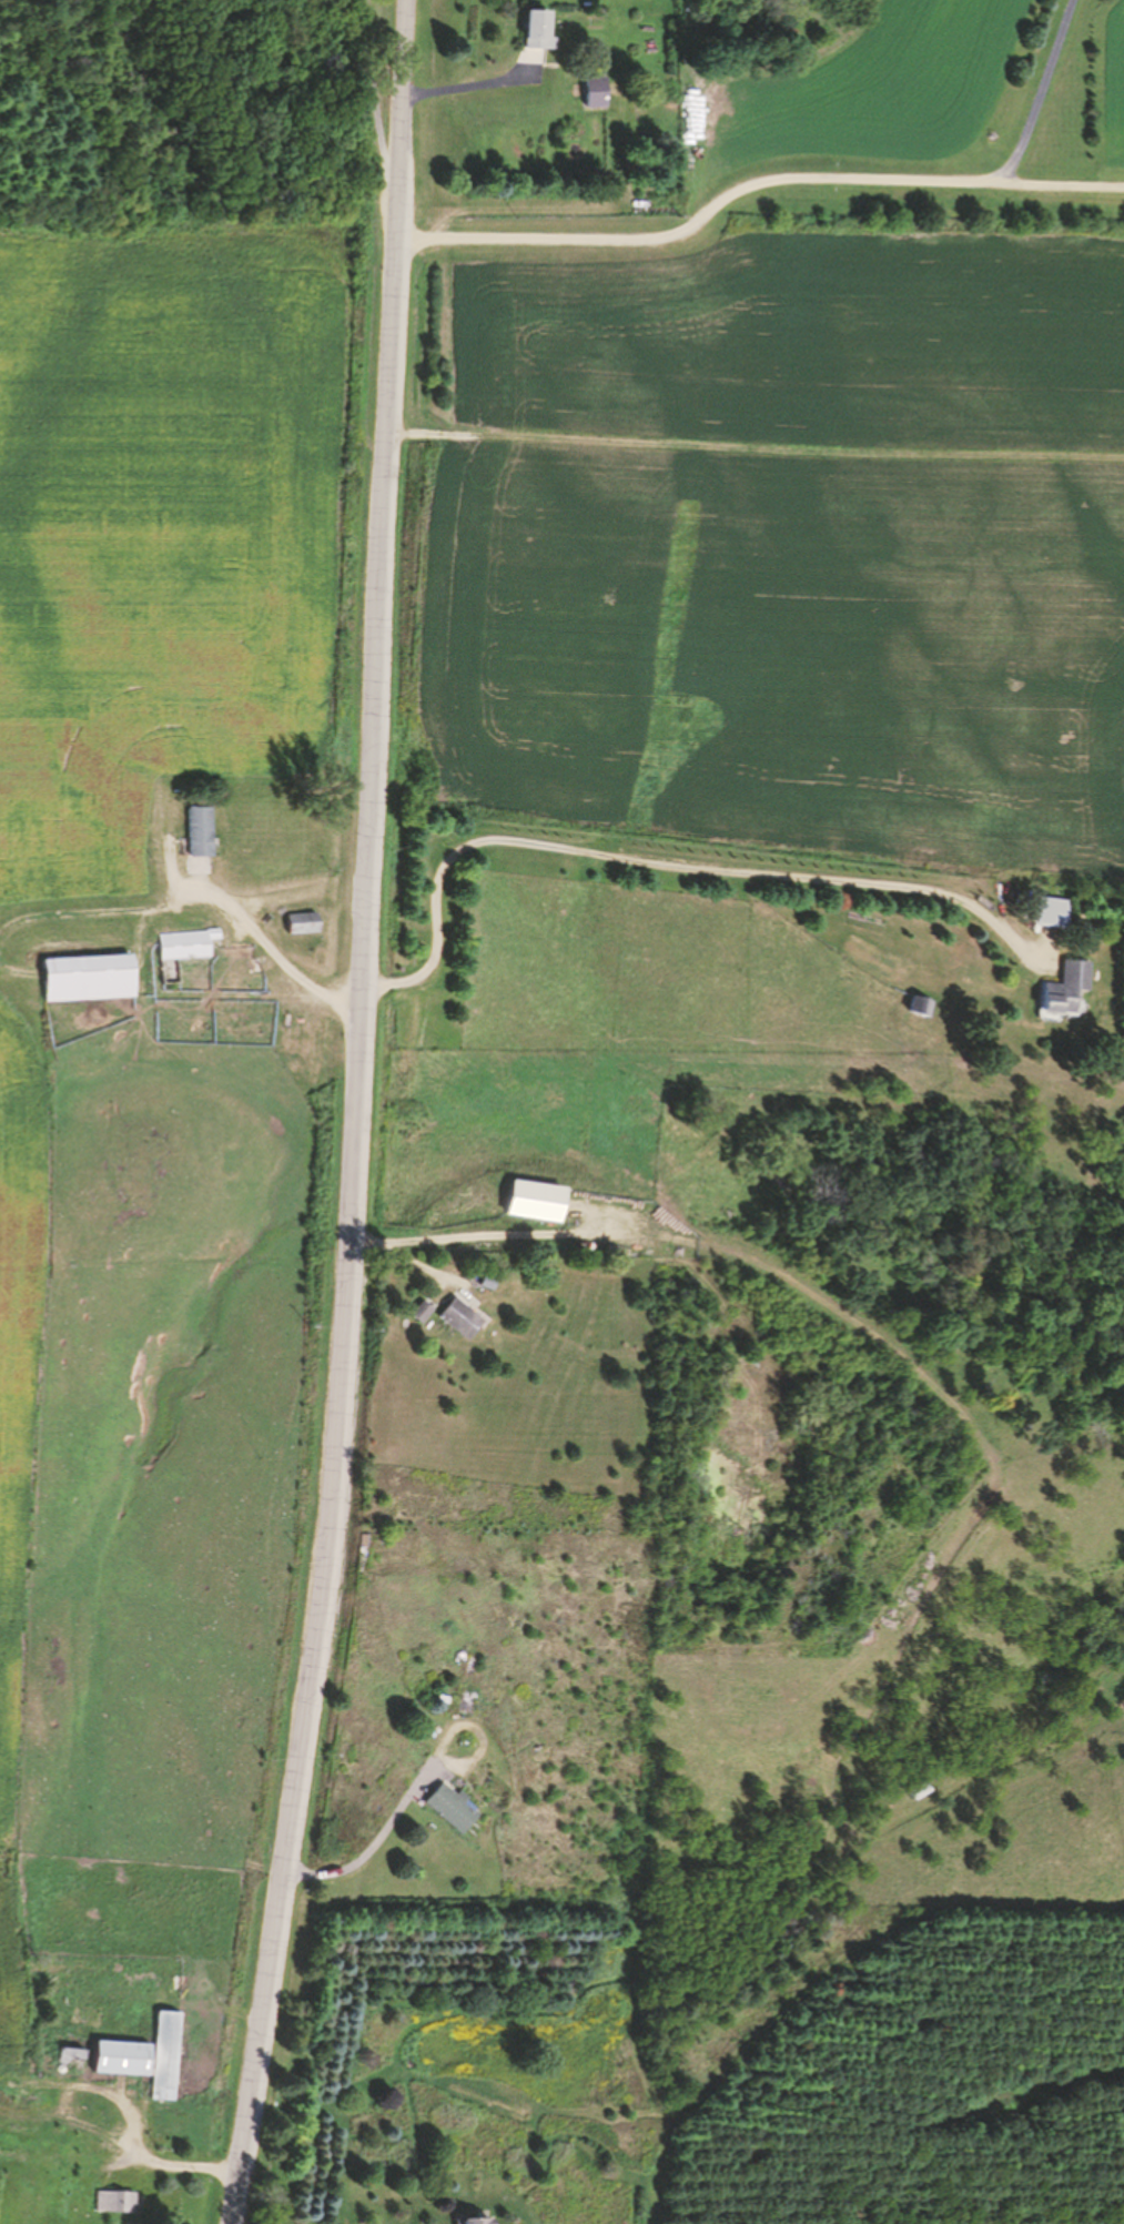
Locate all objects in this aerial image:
building: (534, 32)
road: (1039, 90)
building: (593, 94)
road: (752, 178)
building: (198, 832)
building: (1047, 913)
building: (300, 926)
building: (184, 947)
building: (87, 980)
building: (1063, 992)
building: (918, 1009)
road: (374, 1113)
road: (356, 1115)
building: (418, 1312)
building: (457, 1318)
building: (449, 1809)
building: (68, 2055)
building: (162, 2058)
building: (118, 2059)
building: (73, 2171)
building: (113, 2202)
building: (470, 2222)

